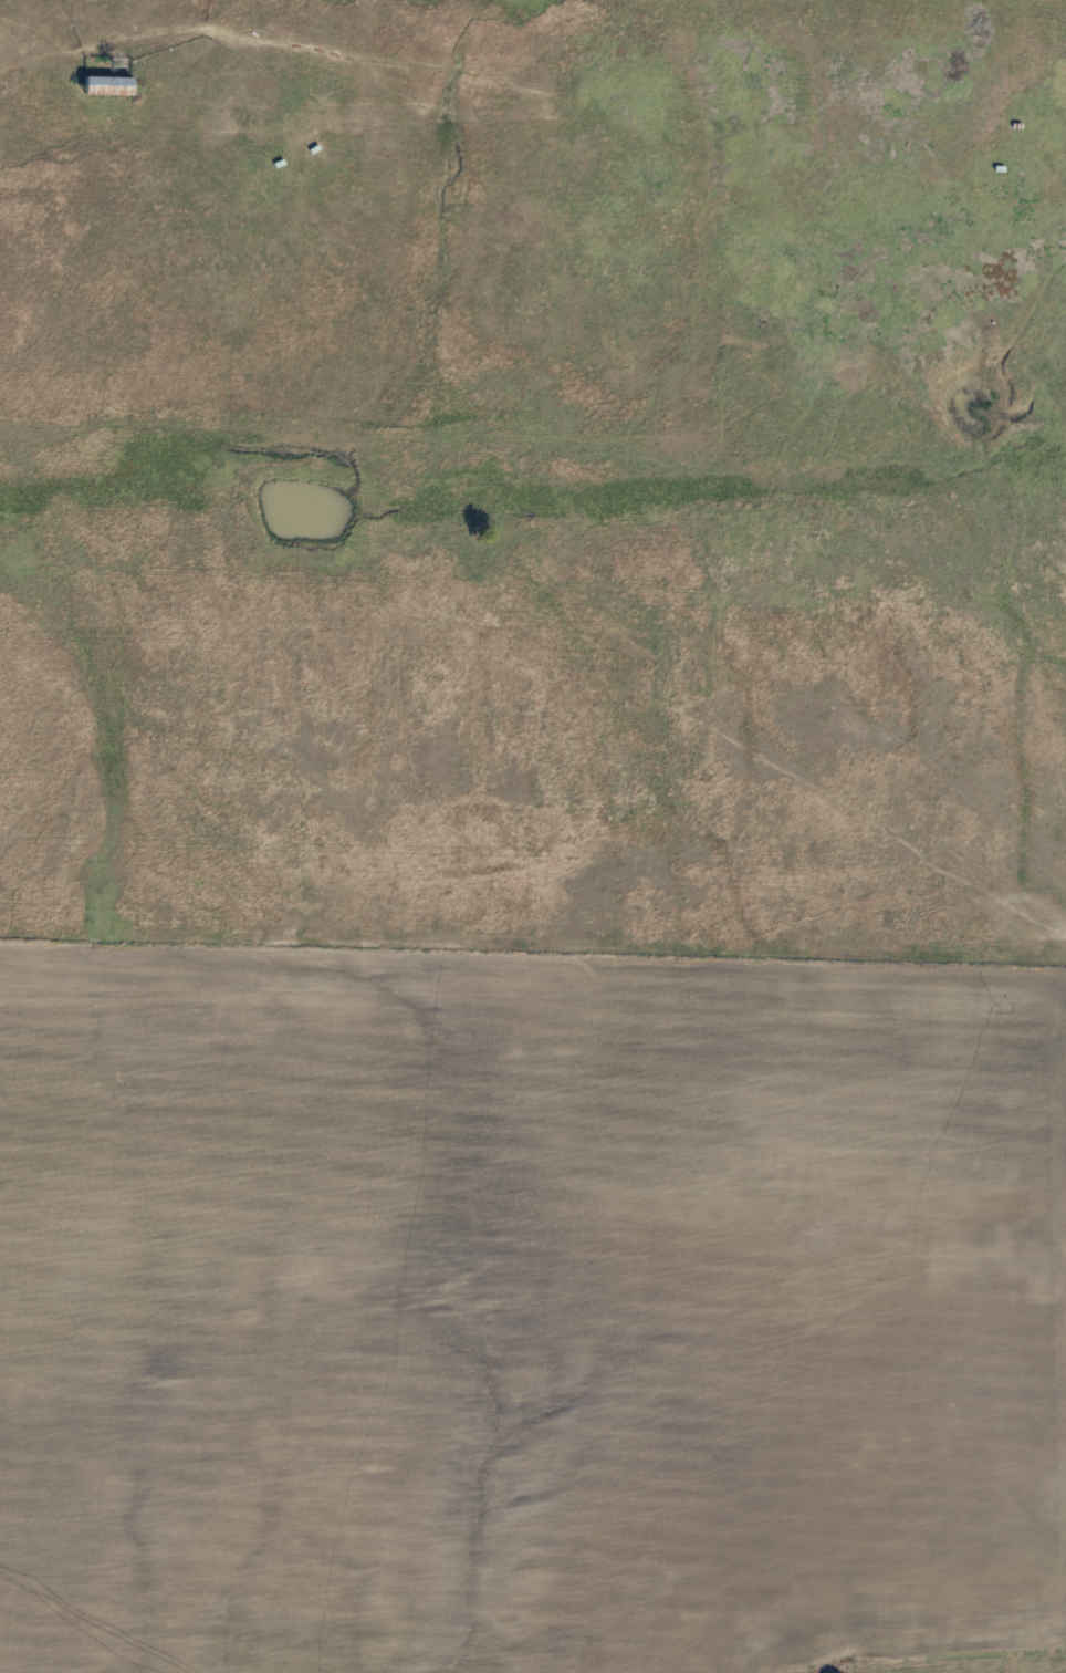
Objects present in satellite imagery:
building: (106, 84)
crop: (523, 1302)

